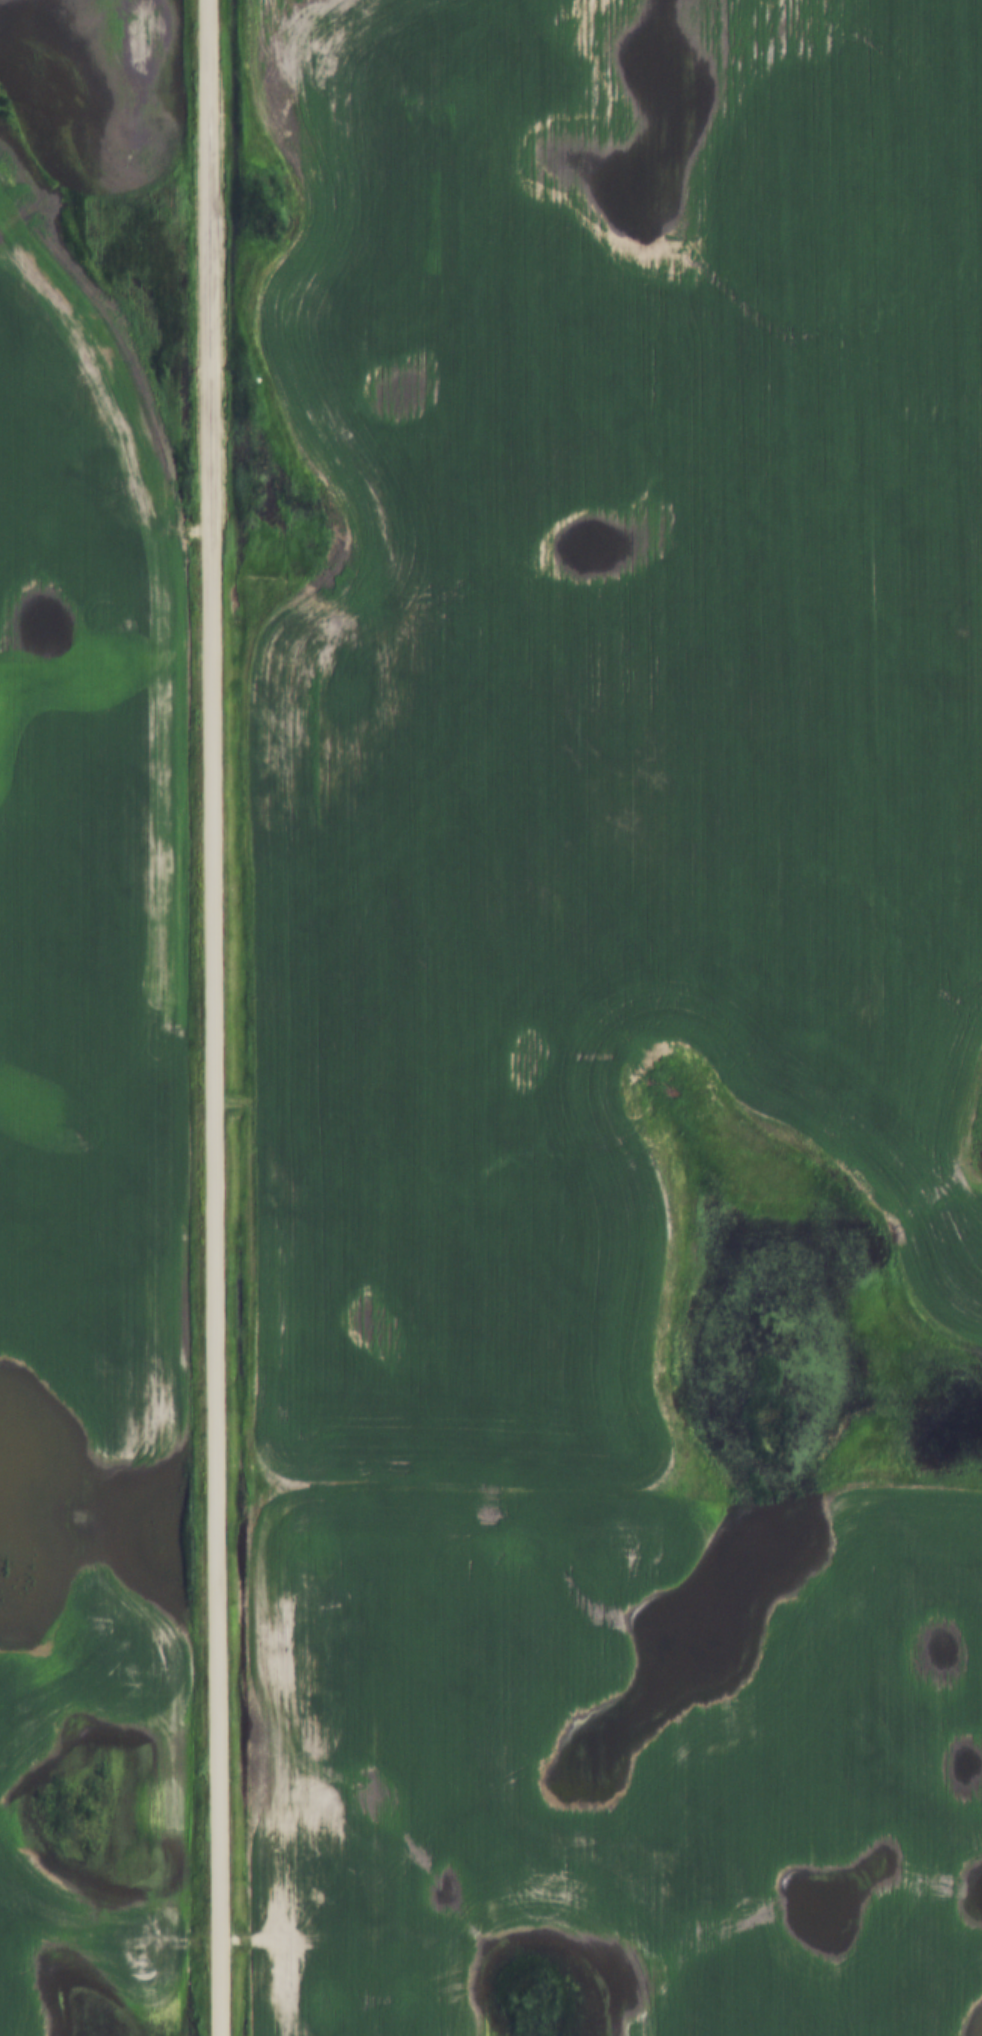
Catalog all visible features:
road: (211, 1017)

